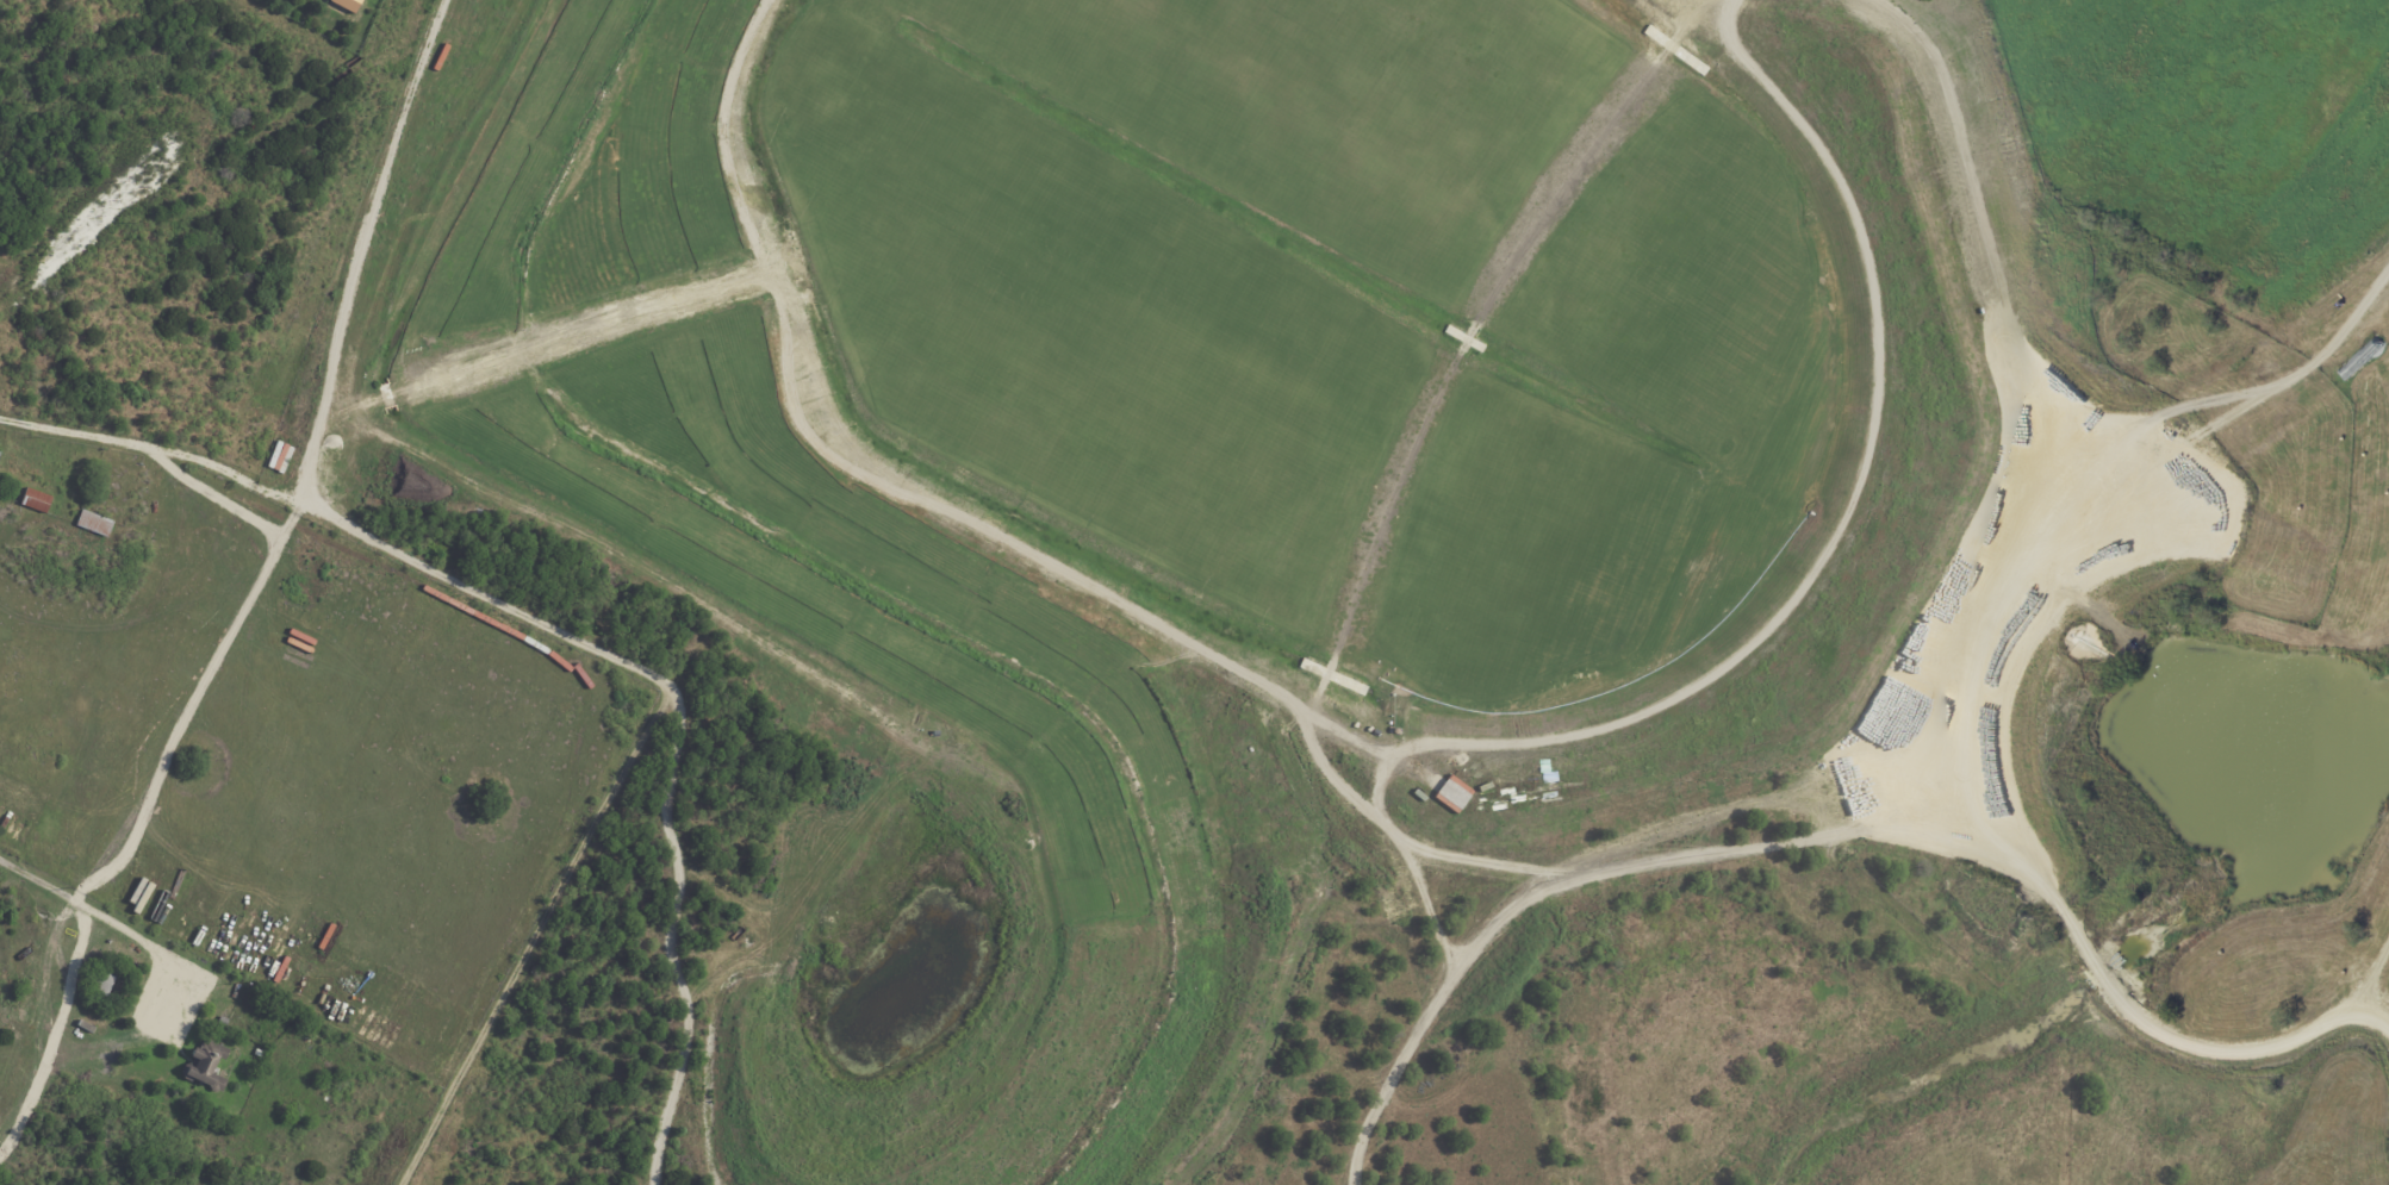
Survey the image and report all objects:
building: (349, 5)
building: (38, 501)
building: (97, 523)
road: (342, 525)
road: (93, 908)
road: (2379, 960)
building: (106, 983)
building: (125, 984)
building: (224, 1021)
building: (301, 1023)
building: (87, 1025)
building: (260, 1052)
building: (206, 1065)

